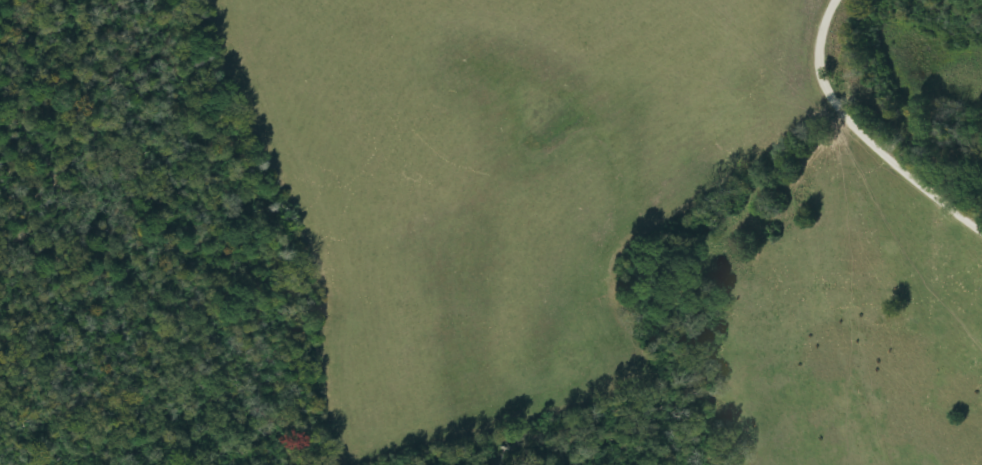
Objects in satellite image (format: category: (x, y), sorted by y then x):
road: (863, 135)

